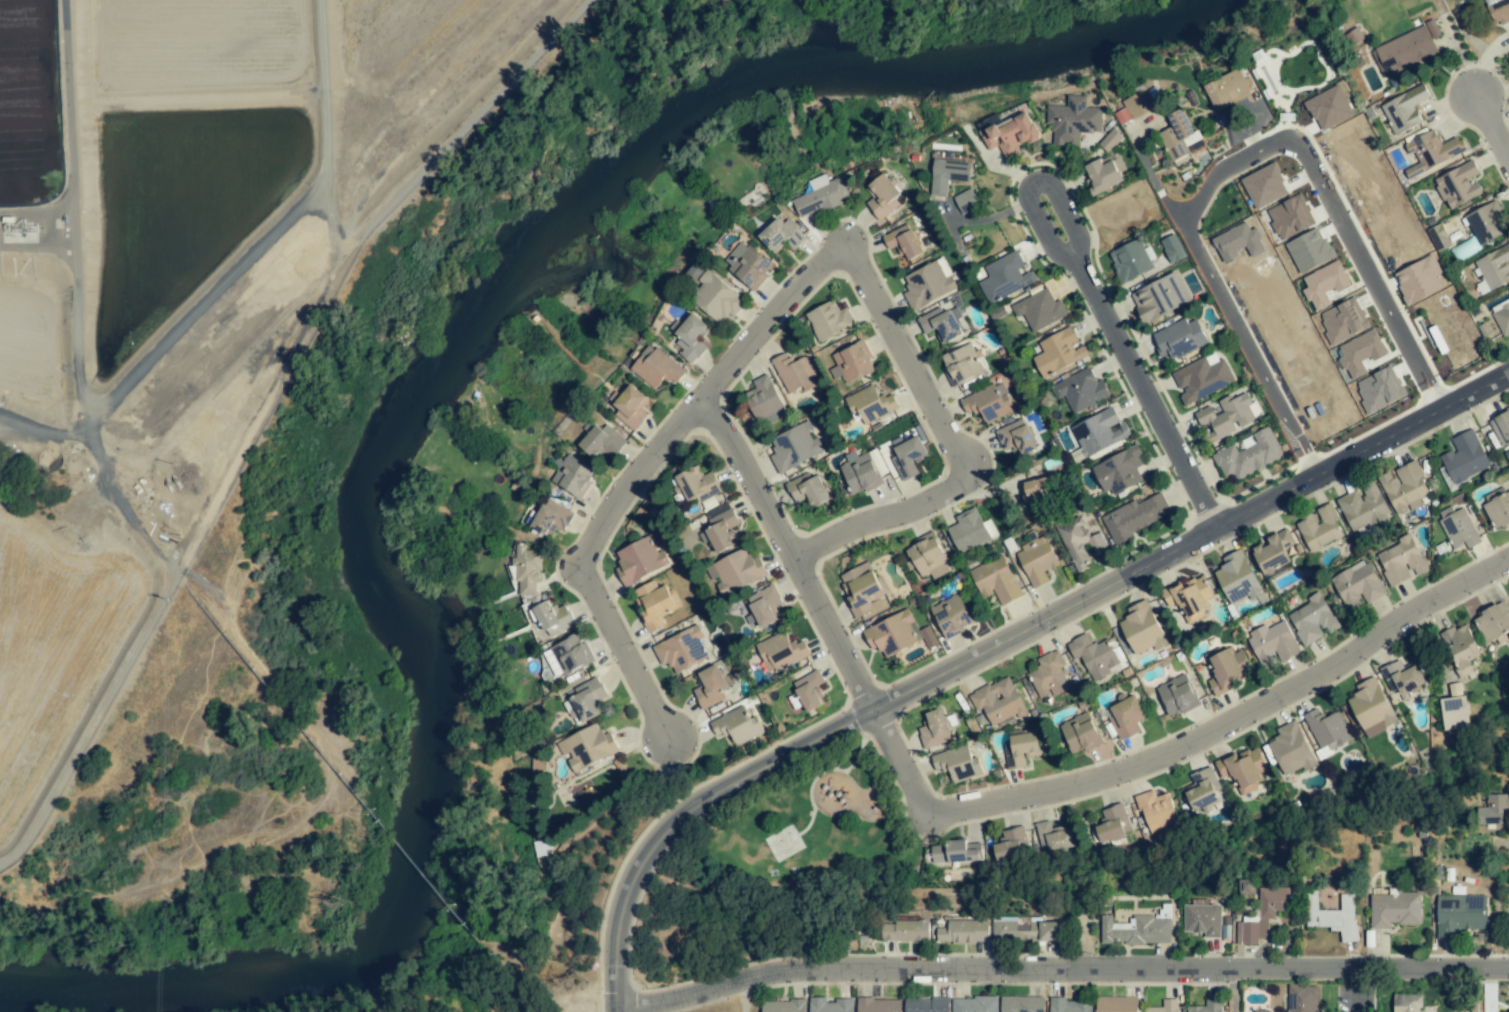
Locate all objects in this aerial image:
building: (1499, 10)
building: (1406, 49)
building: (1227, 89)
building: (1329, 107)
building: (1260, 109)
building: (1404, 109)
building: (1073, 120)
road: (1492, 126)
building: (1008, 133)
building: (1180, 137)
building: (1110, 140)
building: (1432, 151)
building: (1103, 174)
building: (947, 175)
building: (1458, 185)
building: (1264, 186)
road: (1329, 194)
building: (820, 195)
building: (882, 196)
building: (966, 200)
building: (1288, 218)
building: (1486, 223)
building: (781, 234)
building: (903, 242)
building: (1238, 242)
building: (1172, 249)
building: (1309, 250)
building: (1131, 260)
building: (747, 265)
building: (1493, 269)
building: (1005, 277)
building: (1418, 280)
building: (928, 284)
building: (1324, 284)
building: (1159, 297)
building: (715, 298)
road: (1097, 306)
building: (1039, 310)
building: (1502, 319)
building: (828, 320)
building: (1343, 321)
building: (940, 325)
building: (689, 337)
building: (1179, 338)
building: (1058, 352)
building: (1360, 353)
road: (1257, 361)
building: (850, 364)
building: (963, 364)
building: (655, 367)
building: (795, 373)
building: (1202, 378)
building: (1080, 390)
building: (1378, 390)
river: (412, 397)
building: (764, 399)
building: (988, 403)
building: (870, 405)
building: (631, 407)
building: (1228, 416)
building: (1501, 428)
building: (1098, 433)
building: (600, 440)
road: (951, 446)
building: (794, 447)
building: (1249, 455)
building: (907, 456)
building: (1465, 457)
building: (1119, 470)
road: (643, 474)
building: (573, 476)
building: (1404, 488)
building: (808, 490)
building: (1040, 492)
building: (1363, 508)
building: (1498, 511)
building: (1135, 516)
building: (549, 517)
building: (1320, 527)
building: (1458, 527)
building: (721, 530)
building: (968, 530)
building: (1080, 542)
building: (1273, 551)
road: (794, 552)
building: (927, 557)
building: (640, 559)
building: (1036, 560)
building: (1401, 561)
building: (527, 569)
building: (736, 571)
building: (1237, 578)
building: (995, 580)
building: (1358, 585)
building: (860, 588)
building: (1188, 597)
building: (653, 604)
building: (763, 606)
building: (951, 615)
building: (552, 618)
building: (1313, 619)
building: (1492, 621)
building: (1142, 629)
building: (897, 634)
road: (1001, 640)
building: (1272, 643)
building: (1460, 649)
building: (681, 650)
building: (781, 652)
building: (570, 654)
building: (1094, 656)
building: (1226, 669)
building: (1049, 675)
building: (1402, 677)
building: (809, 691)
building: (1177, 695)
building: (587, 699)
building: (998, 701)
building: (1371, 708)
building: (1455, 713)
building: (1126, 717)
building: (737, 726)
building: (934, 729)
building: (1327, 730)
building: (1080, 733)
road: (1182, 745)
building: (588, 746)
building: (1023, 747)
building: (1291, 749)
building: (1009, 757)
building: (957, 764)
building: (1243, 769)
building: (1201, 790)
building: (1494, 808)
building: (1156, 811)
building: (1113, 823)
building: (1052, 837)
building: (1011, 843)
building: (954, 852)
building: (1395, 909)
building: (1460, 914)
building: (1262, 915)
building: (1332, 915)
building: (1203, 919)
building: (1024, 929)
building: (1136, 930)
building: (906, 931)
building: (964, 932)
road: (1069, 971)
road: (1357, 980)
road: (1234, 992)
road: (741, 996)
building: (1302, 998)
road: (1356, 999)
building: (1406, 1003)
building: (974, 1004)
building: (1021, 1004)
building: (1116, 1004)
building: (830, 1005)
building: (878, 1005)
building: (926, 1005)
building: (1070, 1005)
building: (783, 1006)
building: (1164, 1006)
building: (1207, 1006)
building: (1508, 1009)
building: (1258, 1011)

